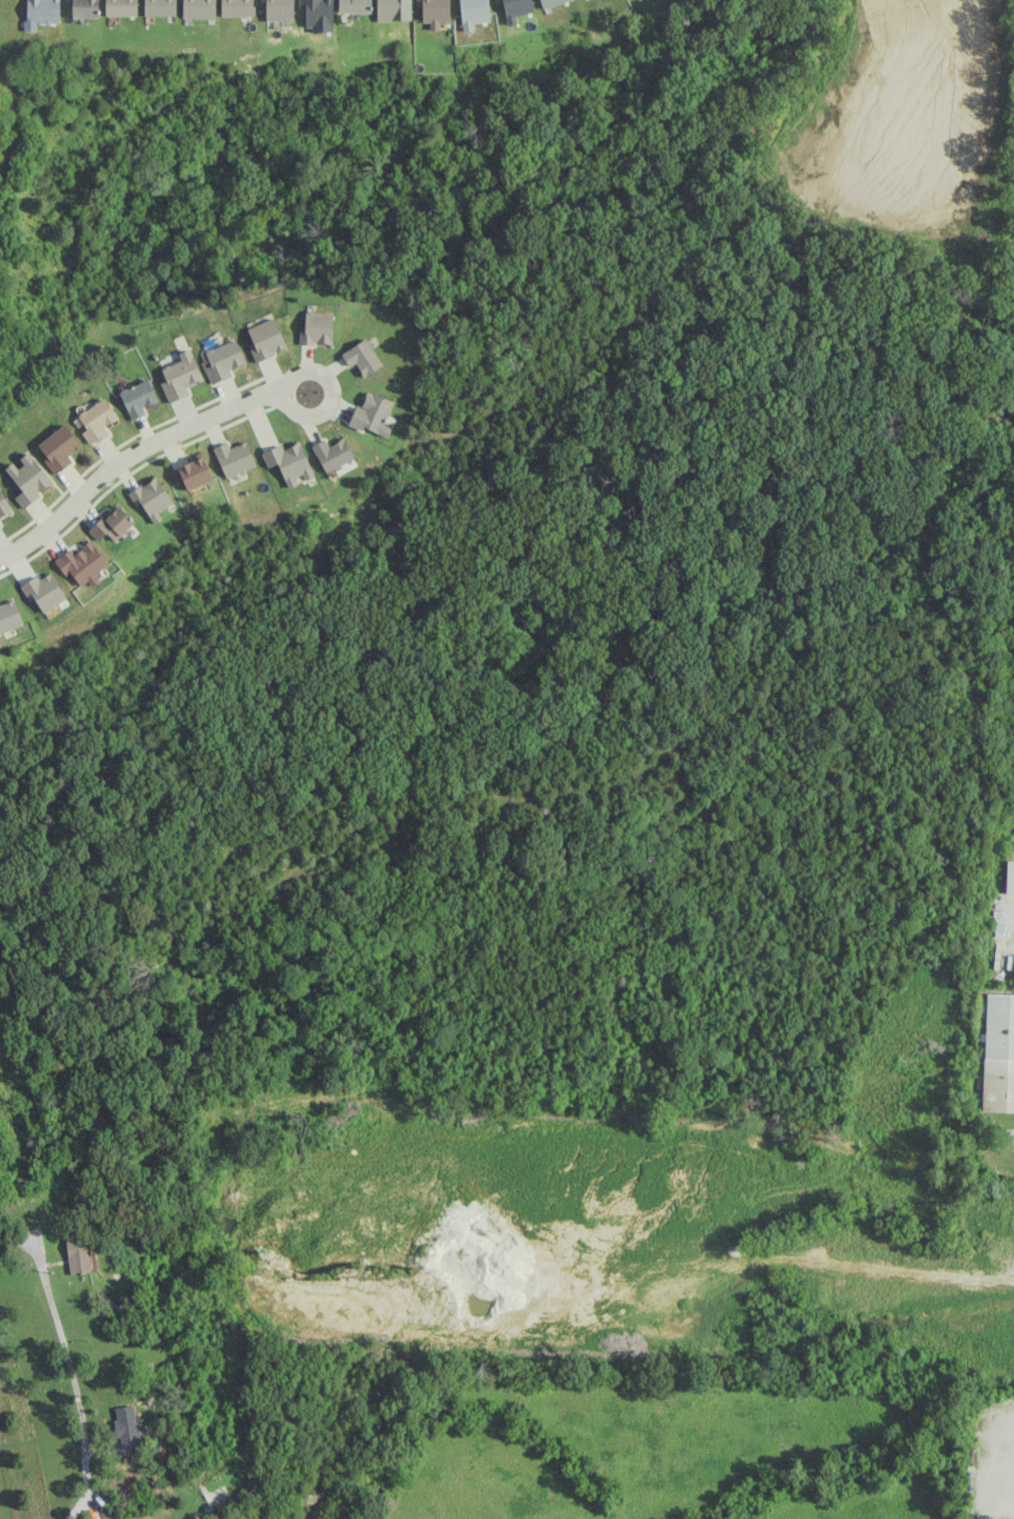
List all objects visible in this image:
building: (551, 2)
building: (353, 6)
building: (159, 7)
building: (84, 8)
building: (120, 8)
building: (236, 8)
building: (198, 9)
building: (278, 10)
building: (434, 12)
building: (41, 13)
building: (473, 13)
building: (316, 328)
building: (265, 339)
building: (361, 357)
building: (222, 360)
building: (179, 376)
road: (332, 392)
building: (137, 398)
building: (370, 414)
building: (96, 420)
building: (58, 448)
road: (130, 452)
building: (331, 454)
building: (232, 458)
building: (288, 461)
building: (191, 473)
building: (28, 479)
building: (150, 498)
building: (3, 505)
building: (0, 524)
building: (111, 524)
building: (81, 564)
building: (43, 591)
building: (9, 616)
building: (1009, 878)
building: (998, 1053)
building: (78, 1255)
road: (67, 1361)
building: (125, 1427)

